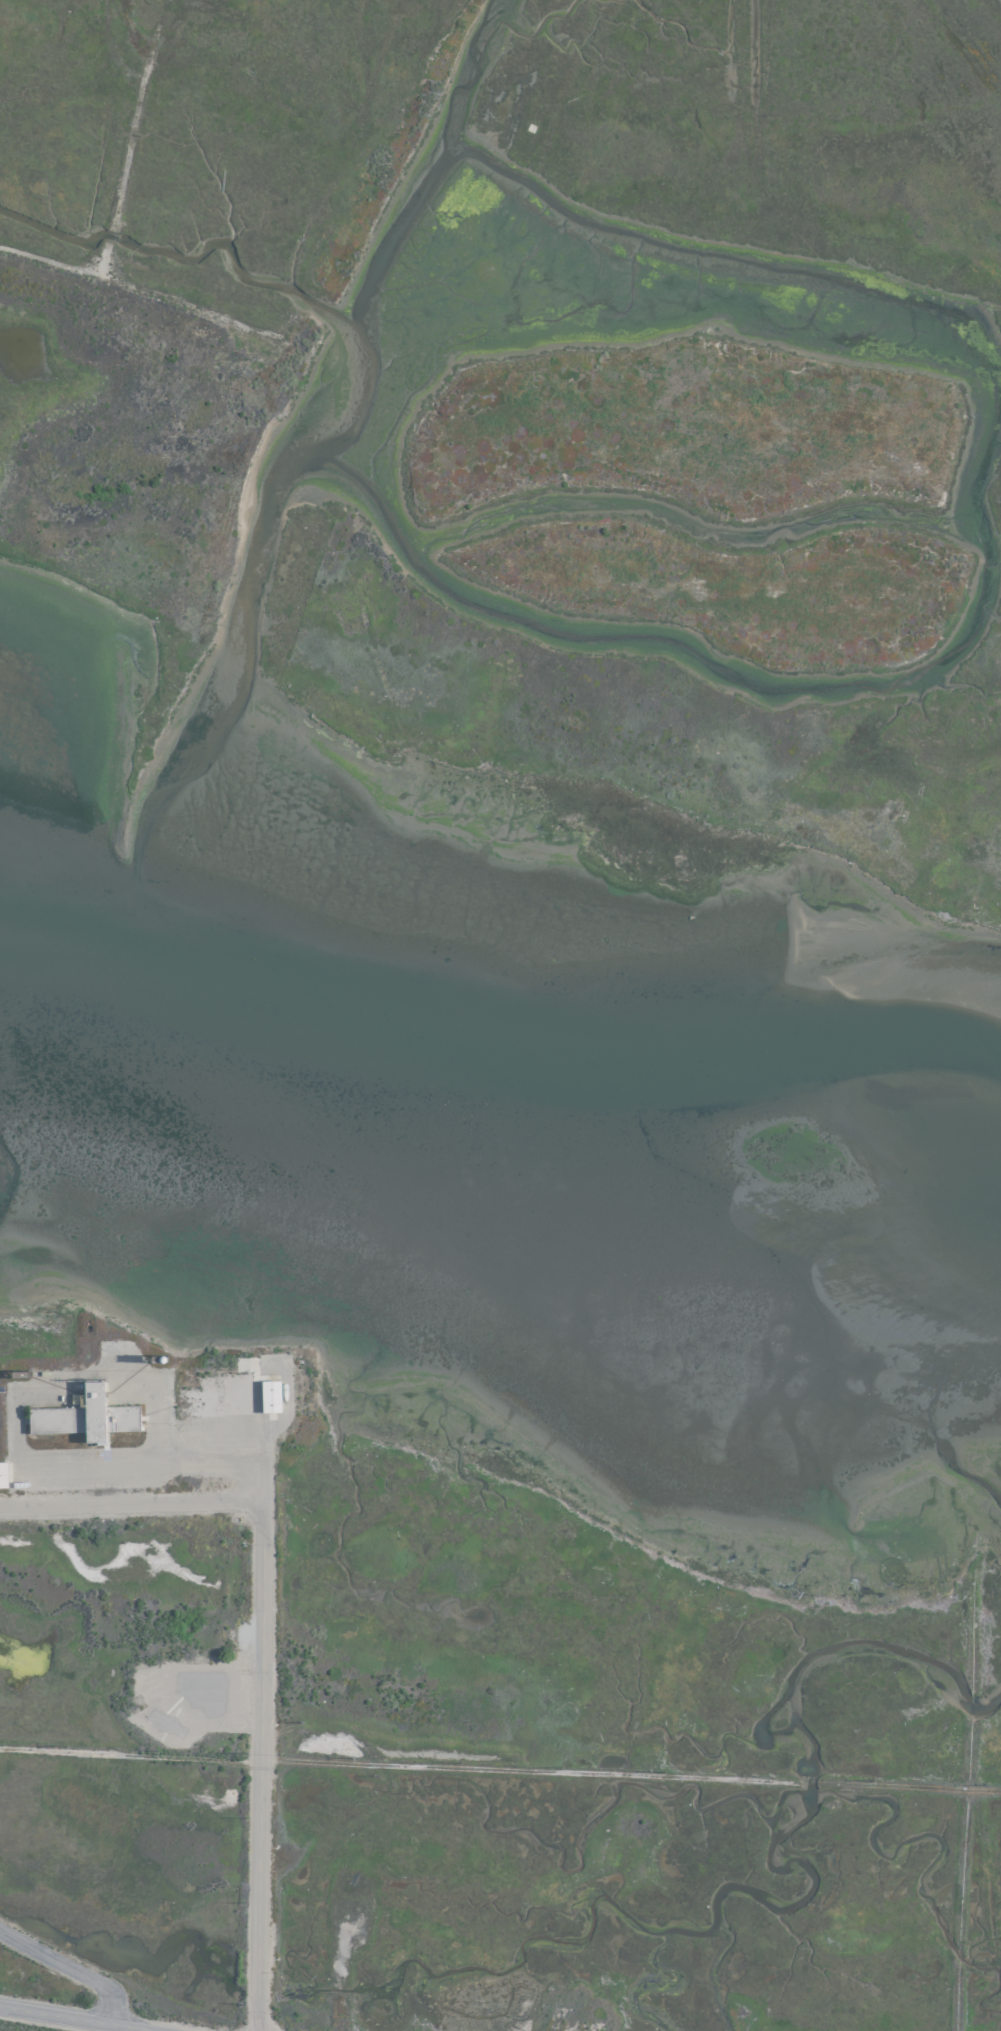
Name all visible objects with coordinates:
airport: (500, 1015)
building: (268, 1395)
building: (91, 1410)
building: (119, 1417)
building: (54, 1419)
building: (2, 1474)
road: (115, 1504)
road: (257, 1761)
road: (500, 1770)
road: (68, 1969)
road: (75, 2019)

